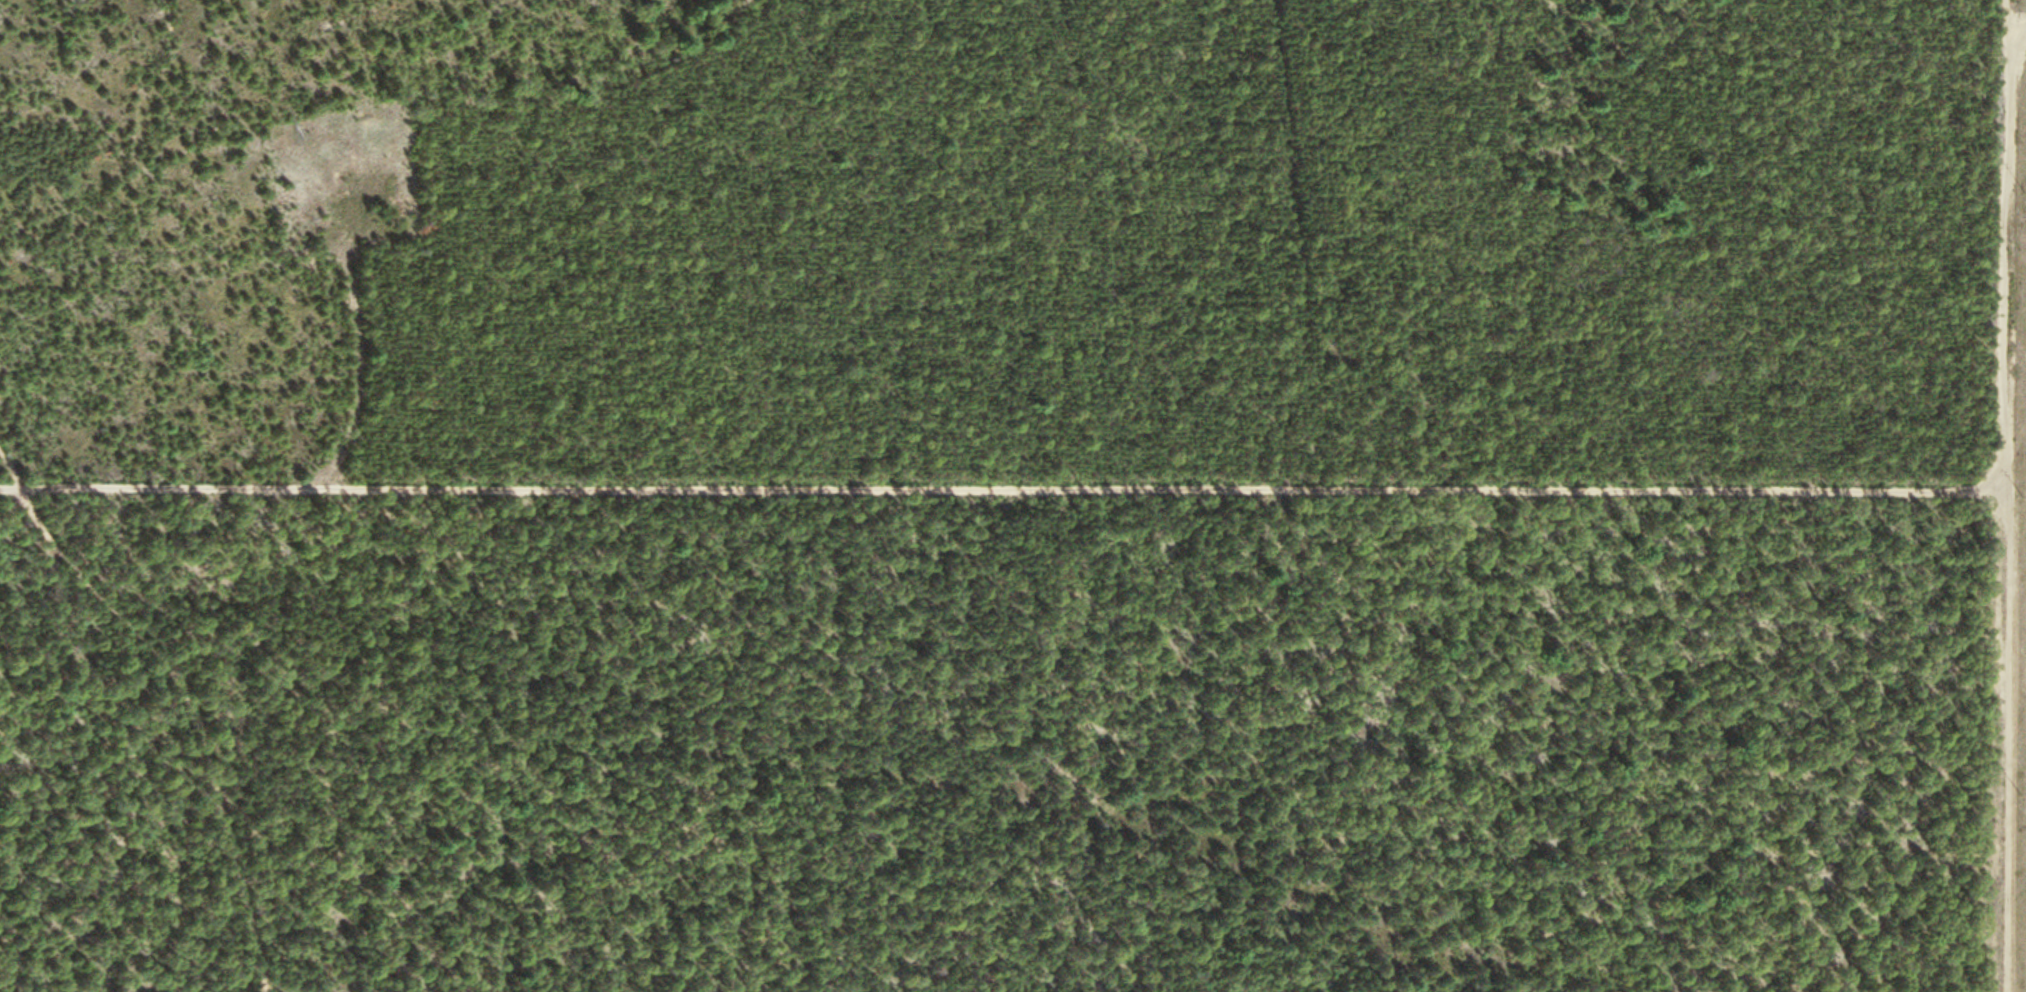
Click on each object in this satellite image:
road: (2016, 15)
road: (998, 483)
road: (1997, 495)
road: (175, 691)

